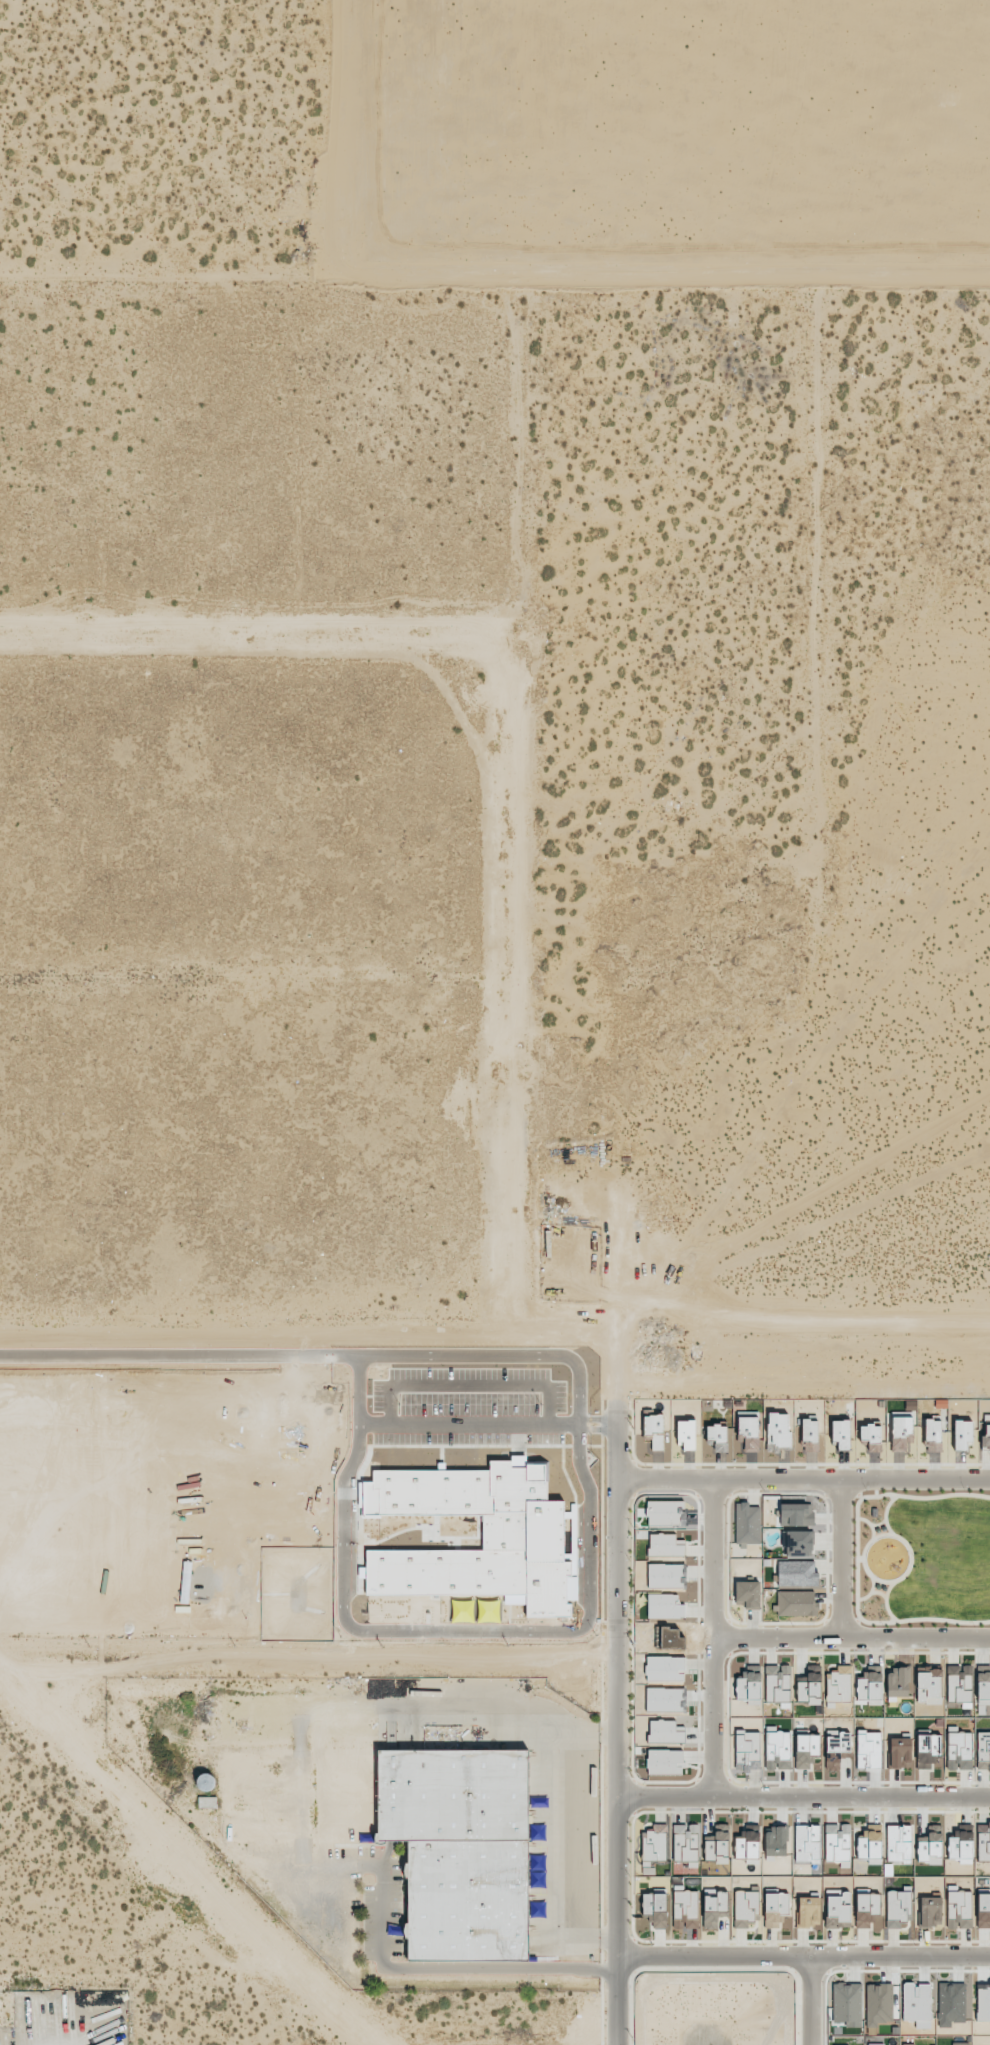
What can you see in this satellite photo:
road: (494, 278)
building: (654, 1431)
building: (778, 1431)
building: (809, 1431)
building: (748, 1432)
building: (840, 1433)
building: (901, 1433)
building: (962, 1433)
building: (685, 1434)
building: (933, 1435)
building: (717, 1436)
building: (871, 1437)
building: (986, 1439)
road: (804, 1484)
building: (796, 1514)
building: (747, 1523)
road: (841, 1565)
building: (797, 1573)
building: (747, 1594)
building: (796, 1603)
road: (712, 1644)
road: (851, 1646)
road: (309, 1665)
building: (897, 1683)
building: (778, 1685)
building: (838, 1686)
building: (870, 1686)
building: (928, 1686)
building: (983, 1686)
building: (749, 1687)
road: (506, 1714)
road: (620, 1729)
building: (747, 1749)
building: (983, 1751)
road: (805, 1804)
building: (685, 1842)
building: (983, 1843)
building: (654, 1844)
building: (460, 1850)
building: (745, 1908)
building: (774, 1908)
building: (897, 1908)
building: (655, 1909)
building: (685, 1909)
building: (714, 1909)
building: (959, 1909)
building: (867, 1910)
building: (983, 1910)
building: (930, 1911)
building: (808, 1912)
road: (806, 1962)
road: (809, 2003)
building: (983, 2004)
building: (908, 2044)

